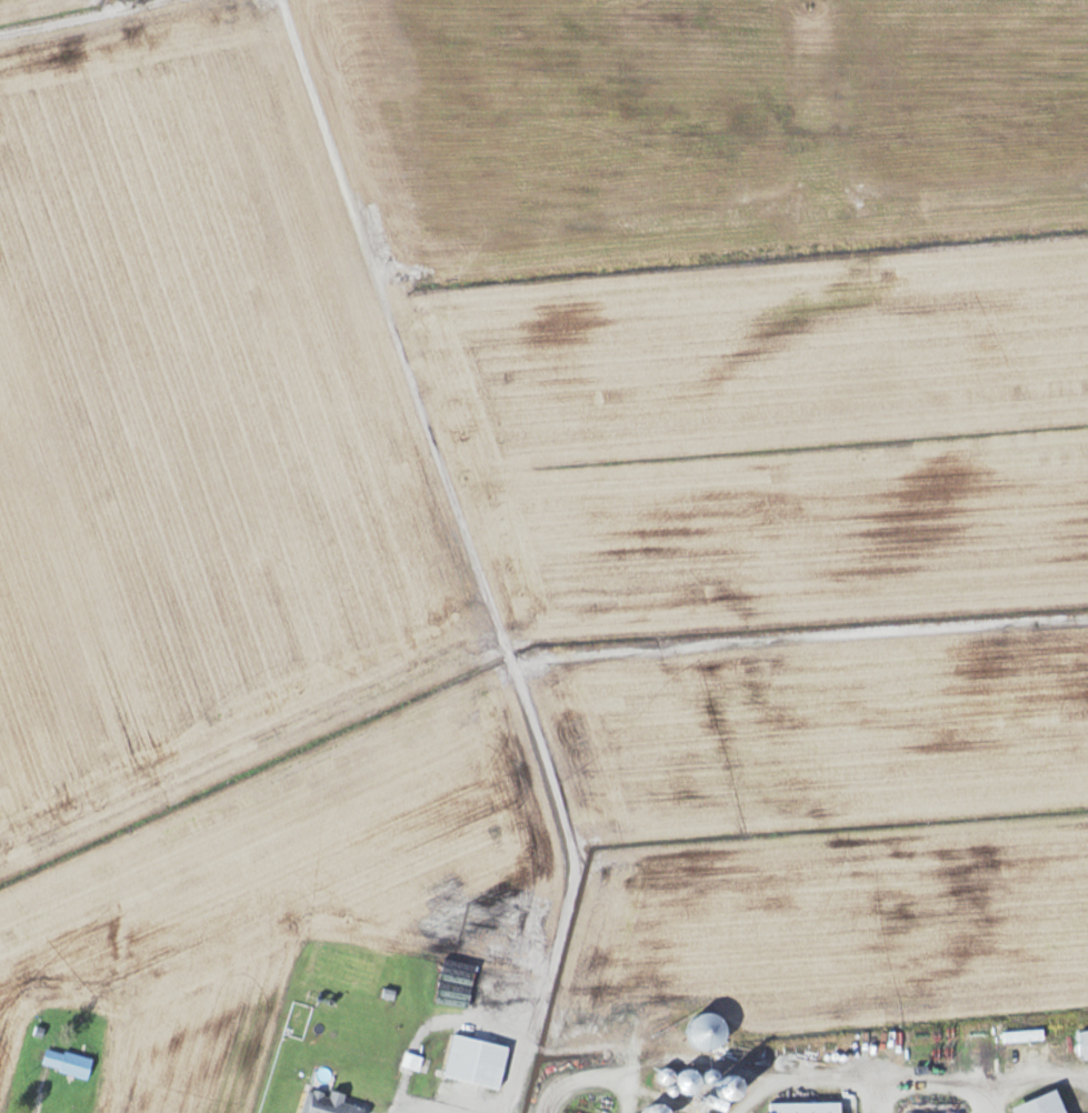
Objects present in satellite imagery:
road: (580, 260)
building: (1025, 1024)
building: (707, 1031)
building: (413, 1062)
building: (68, 1063)
building: (668, 1076)
building: (688, 1080)
building: (729, 1089)
building: (328, 1103)
building: (1042, 1104)
building: (807, 1107)
building: (657, 1110)

